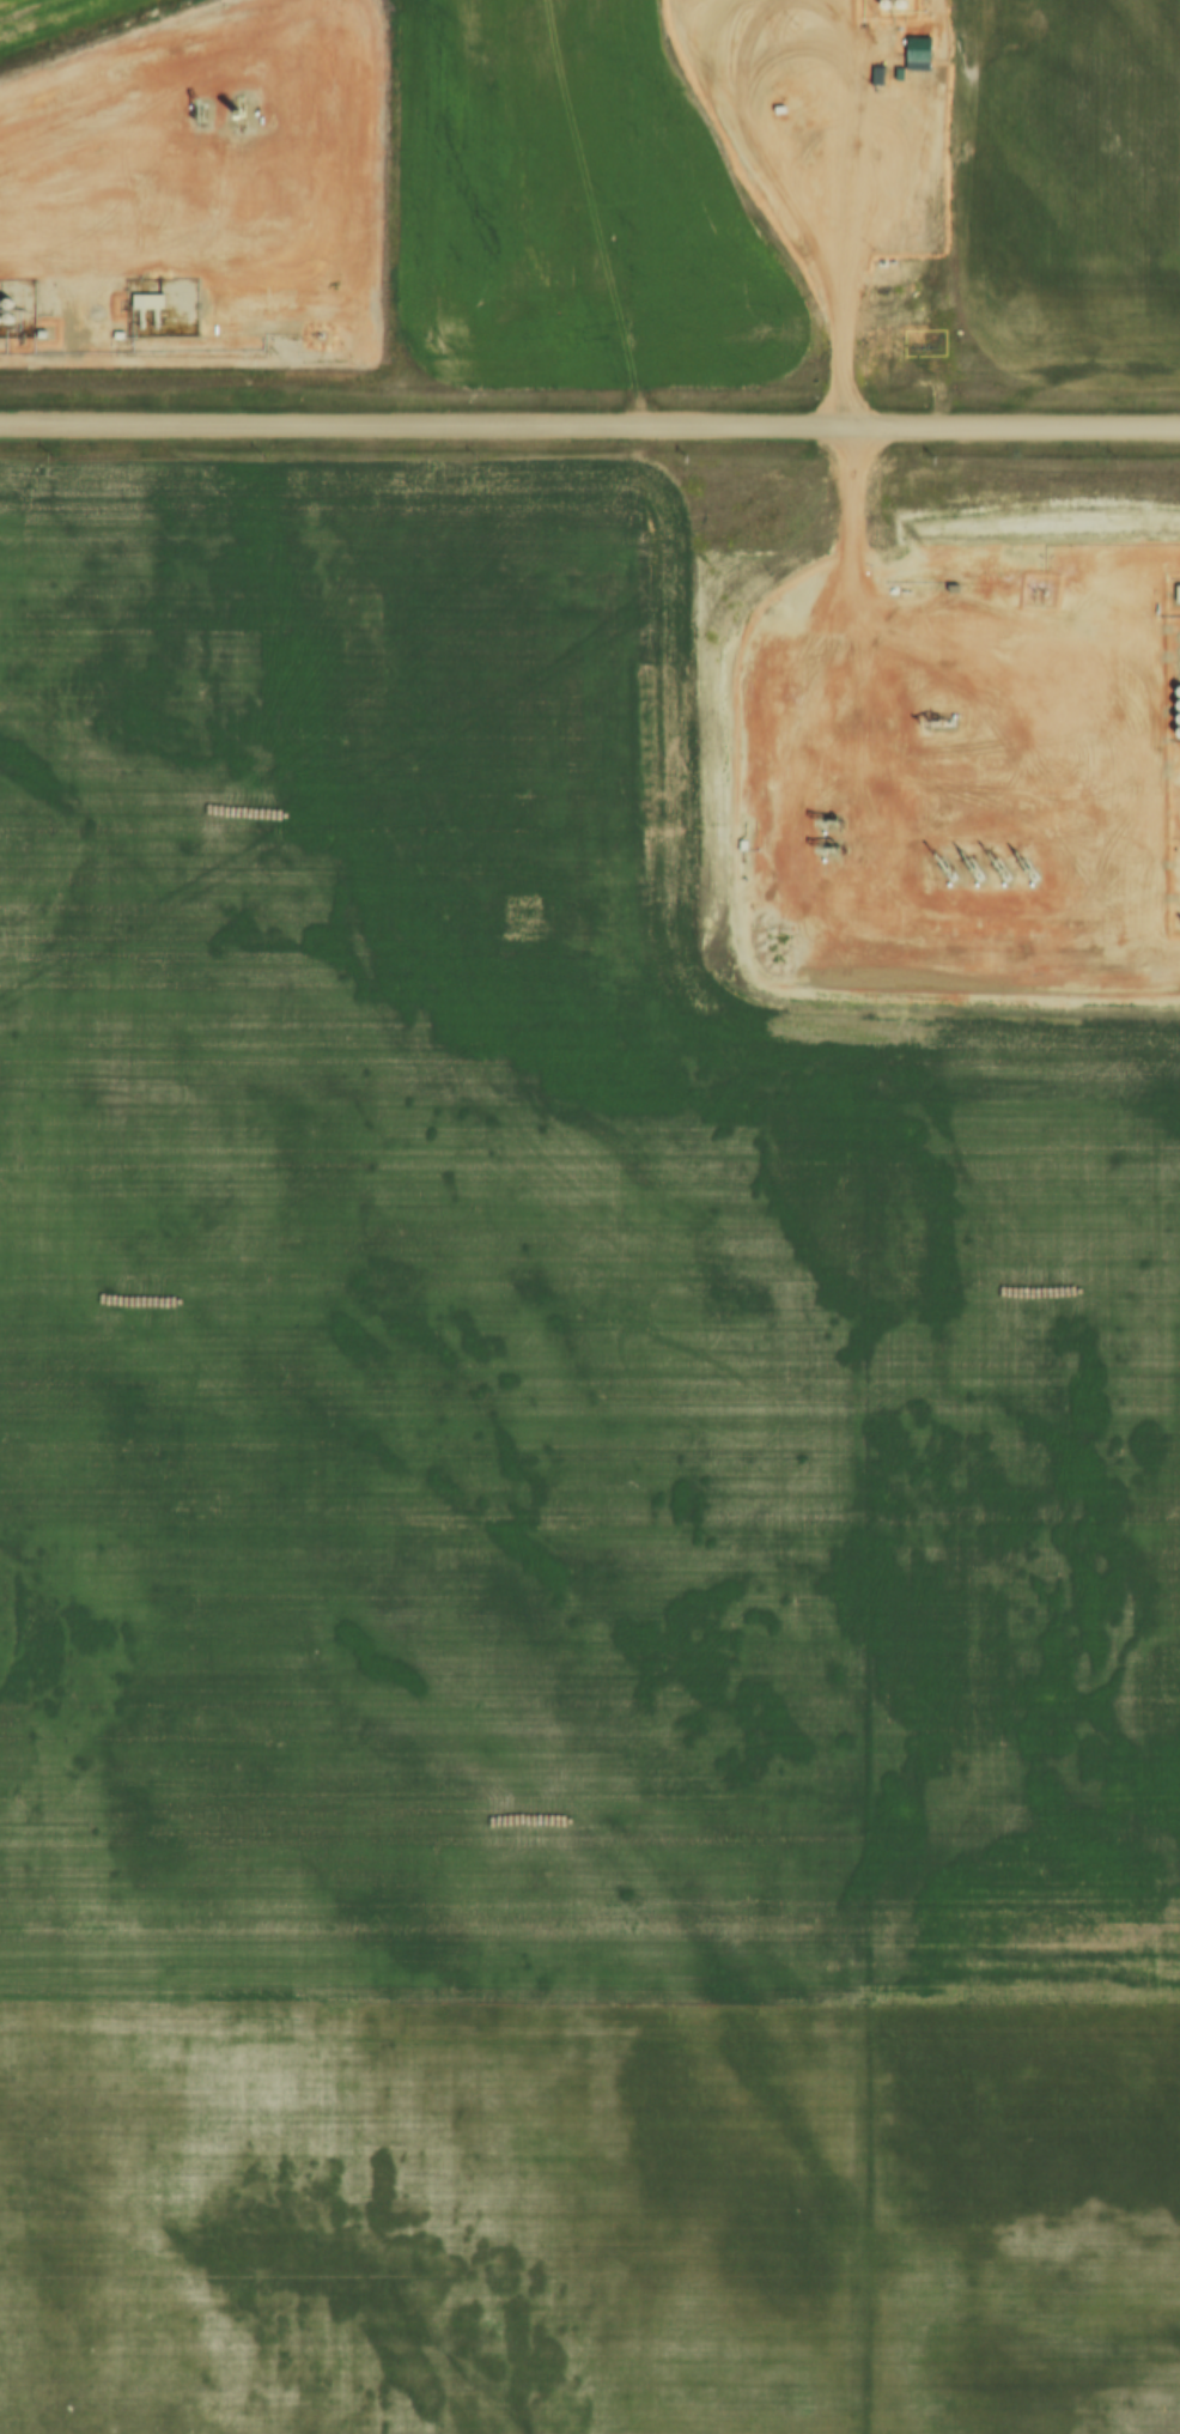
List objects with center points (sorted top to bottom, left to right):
building: (889, 45)
building: (922, 48)
road: (590, 426)

